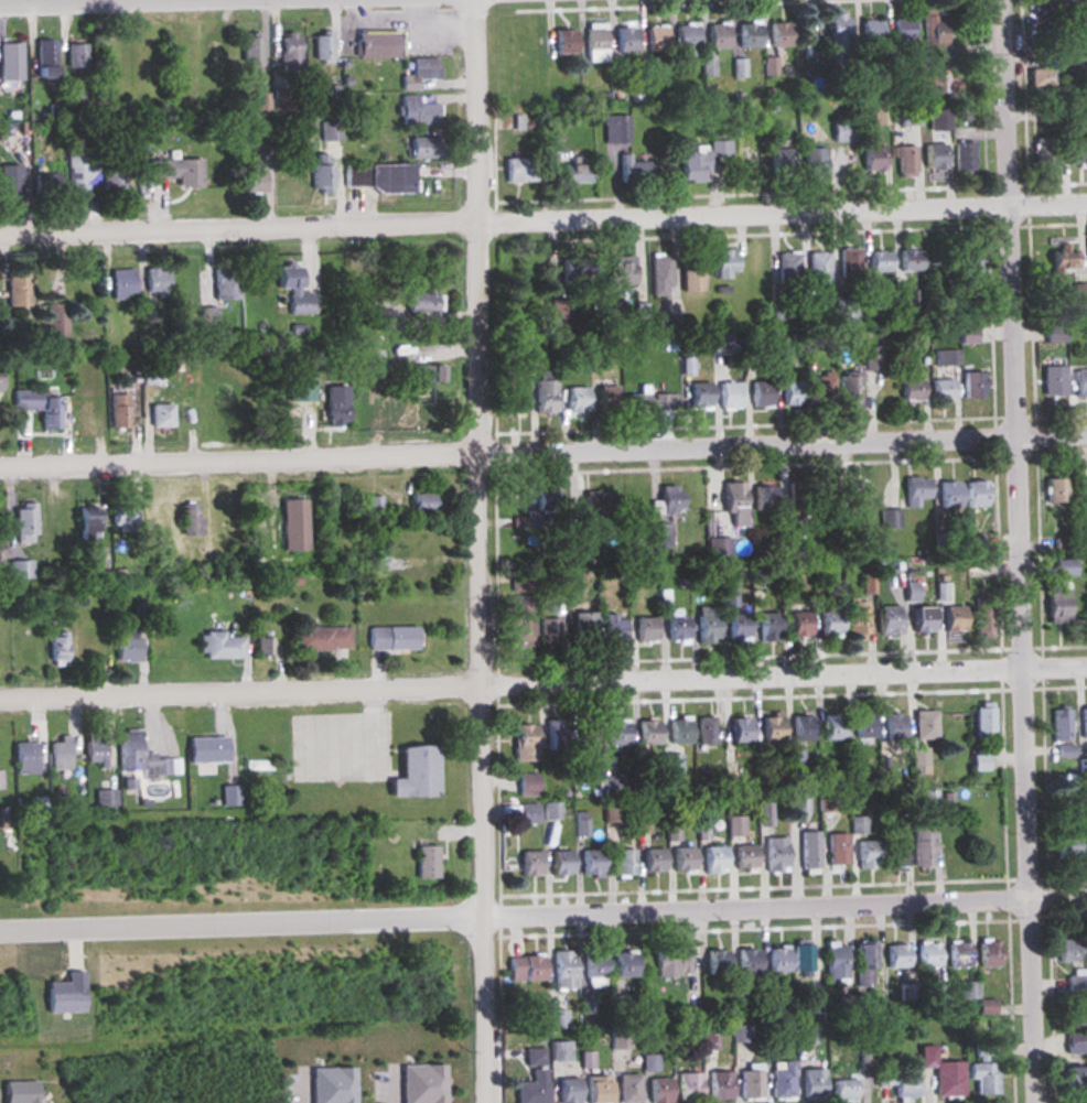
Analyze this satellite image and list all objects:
road: (237, 3)
building: (902, 31)
building: (872, 32)
building: (933, 32)
building: (747, 34)
building: (778, 34)
building: (718, 35)
building: (656, 37)
building: (626, 40)
building: (687, 40)
building: (563, 42)
building: (595, 42)
building: (376, 43)
building: (837, 44)
building: (1072, 46)
building: (215, 47)
building: (322, 48)
building: (250, 51)
building: (290, 51)
building: (76, 55)
building: (46, 57)
building: (10, 61)
building: (110, 64)
building: (418, 72)
building: (1042, 73)
building: (930, 83)
building: (74, 95)
building: (1068, 100)
building: (416, 110)
building: (879, 111)
building: (906, 116)
building: (937, 120)
building: (616, 129)
building: (329, 130)
building: (842, 131)
building: (424, 145)
building: (720, 149)
building: (1076, 152)
building: (1042, 153)
building: (932, 155)
building: (964, 158)
building: (871, 159)
building: (778, 161)
building: (903, 161)
building: (814, 162)
building: (692, 165)
building: (518, 170)
building: (633, 170)
building: (83, 171)
building: (177, 171)
building: (572, 171)
building: (321, 173)
building: (114, 176)
building: (378, 176)
building: (251, 177)
building: (10, 180)
road: (543, 225)
building: (1061, 258)
building: (907, 261)
building: (878, 262)
building: (724, 264)
building: (849, 264)
building: (967, 264)
building: (575, 268)
building: (818, 269)
building: (618, 271)
building: (659, 274)
building: (690, 277)
building: (158, 283)
building: (226, 283)
building: (784, 283)
building: (123, 284)
building: (17, 289)
building: (293, 289)
building: (1079, 292)
building: (906, 300)
building: (873, 301)
building: (423, 302)
building: (846, 311)
building: (211, 316)
building: (57, 323)
building: (968, 335)
building: (720, 344)
building: (944, 357)
building: (870, 359)
building: (534, 365)
building: (423, 374)
building: (152, 375)
building: (1052, 380)
building: (1079, 382)
building: (971, 385)
building: (822, 388)
building: (940, 389)
building: (911, 390)
building: (847, 391)
building: (790, 392)
building: (760, 393)
building: (698, 394)
building: (729, 394)
building: (545, 396)
building: (604, 400)
building: (514, 401)
building: (665, 401)
building: (575, 402)
building: (635, 402)
building: (335, 405)
building: (41, 407)
building: (424, 408)
building: (118, 411)
building: (85, 413)
building: (161, 415)
road: (543, 456)
building: (1083, 488)
building: (915, 490)
building: (1053, 490)
building: (948, 494)
building: (975, 494)
building: (854, 495)
building: (733, 497)
building: (763, 497)
building: (798, 500)
building: (666, 501)
building: (423, 504)
building: (543, 507)
building: (598, 507)
building: (58, 517)
building: (121, 517)
building: (889, 519)
building: (191, 520)
building: (23, 523)
building: (293, 525)
building: (86, 526)
building: (658, 534)
building: (972, 543)
road: (486, 551)
road: (1021, 551)
building: (0, 558)
building: (1063, 567)
building: (20, 571)
building: (520, 580)
building: (910, 592)
building: (1056, 605)
building: (981, 616)
building: (855, 618)
building: (951, 618)
building: (921, 619)
building: (520, 620)
building: (885, 620)
building: (706, 624)
building: (797, 624)
building: (828, 624)
building: (736, 626)
building: (583, 627)
building: (613, 627)
building: (676, 627)
building: (767, 627)
building: (644, 629)
building: (549, 631)
building: (321, 639)
building: (391, 639)
building: (126, 645)
building: (220, 646)
building: (265, 647)
building: (57, 649)
road: (543, 692)
building: (983, 720)
building: (925, 725)
building: (771, 726)
building: (862, 726)
building: (1061, 726)
building: (832, 727)
building: (891, 727)
building: (801, 728)
building: (1084, 728)
building: (677, 729)
building: (704, 729)
building: (740, 729)
building: (615, 733)
building: (647, 733)
building: (553, 734)
building: (586, 734)
building: (525, 743)
building: (94, 749)
building: (206, 750)
building: (60, 754)
building: (142, 757)
building: (24, 758)
building: (672, 763)
building: (980, 763)
building: (1084, 768)
building: (416, 774)
building: (0, 780)
building: (527, 783)
building: (612, 785)
building: (229, 796)
building: (798, 802)
building: (826, 802)
building: (551, 810)
building: (613, 811)
building: (526, 813)
building: (764, 814)
building: (642, 824)
building: (858, 825)
building: (735, 826)
building: (923, 846)
building: (1066, 846)
building: (1086, 846)
building: (837, 850)
building: (808, 853)
building: (774, 854)
building: (865, 854)
building: (742, 856)
building: (894, 857)
building: (682, 859)
building: (713, 859)
building: (652, 861)
building: (427, 862)
building: (560, 862)
building: (624, 862)
building: (529, 863)
building: (590, 863)
road: (543, 924)
building: (1069, 950)
building: (988, 953)
building: (927, 954)
building: (958, 954)
building: (896, 956)
building: (777, 960)
building: (803, 960)
building: (671, 961)
building: (715, 962)
building: (747, 962)
building: (836, 962)
building: (864, 963)
building: (624, 964)
building: (526, 969)
building: (563, 970)
building: (594, 970)
building: (1076, 984)
building: (938, 991)
building: (908, 993)
building: (63, 995)
building: (689, 1016)
building: (743, 1034)
building: (806, 1035)
building: (1075, 1042)
building: (984, 1049)
building: (560, 1051)
building: (532, 1057)
building: (649, 1063)
building: (941, 1073)
building: (983, 1078)
building: (782, 1080)
building: (1072, 1080)
building: (752, 1081)
building: (812, 1083)
building: (898, 1084)
building: (720, 1086)
building: (531, 1088)
building: (689, 1088)
building: (595, 1089)
building: (627, 1089)
building: (843, 1090)
building: (567, 1091)
building: (659, 1091)
building: (19, 1092)

